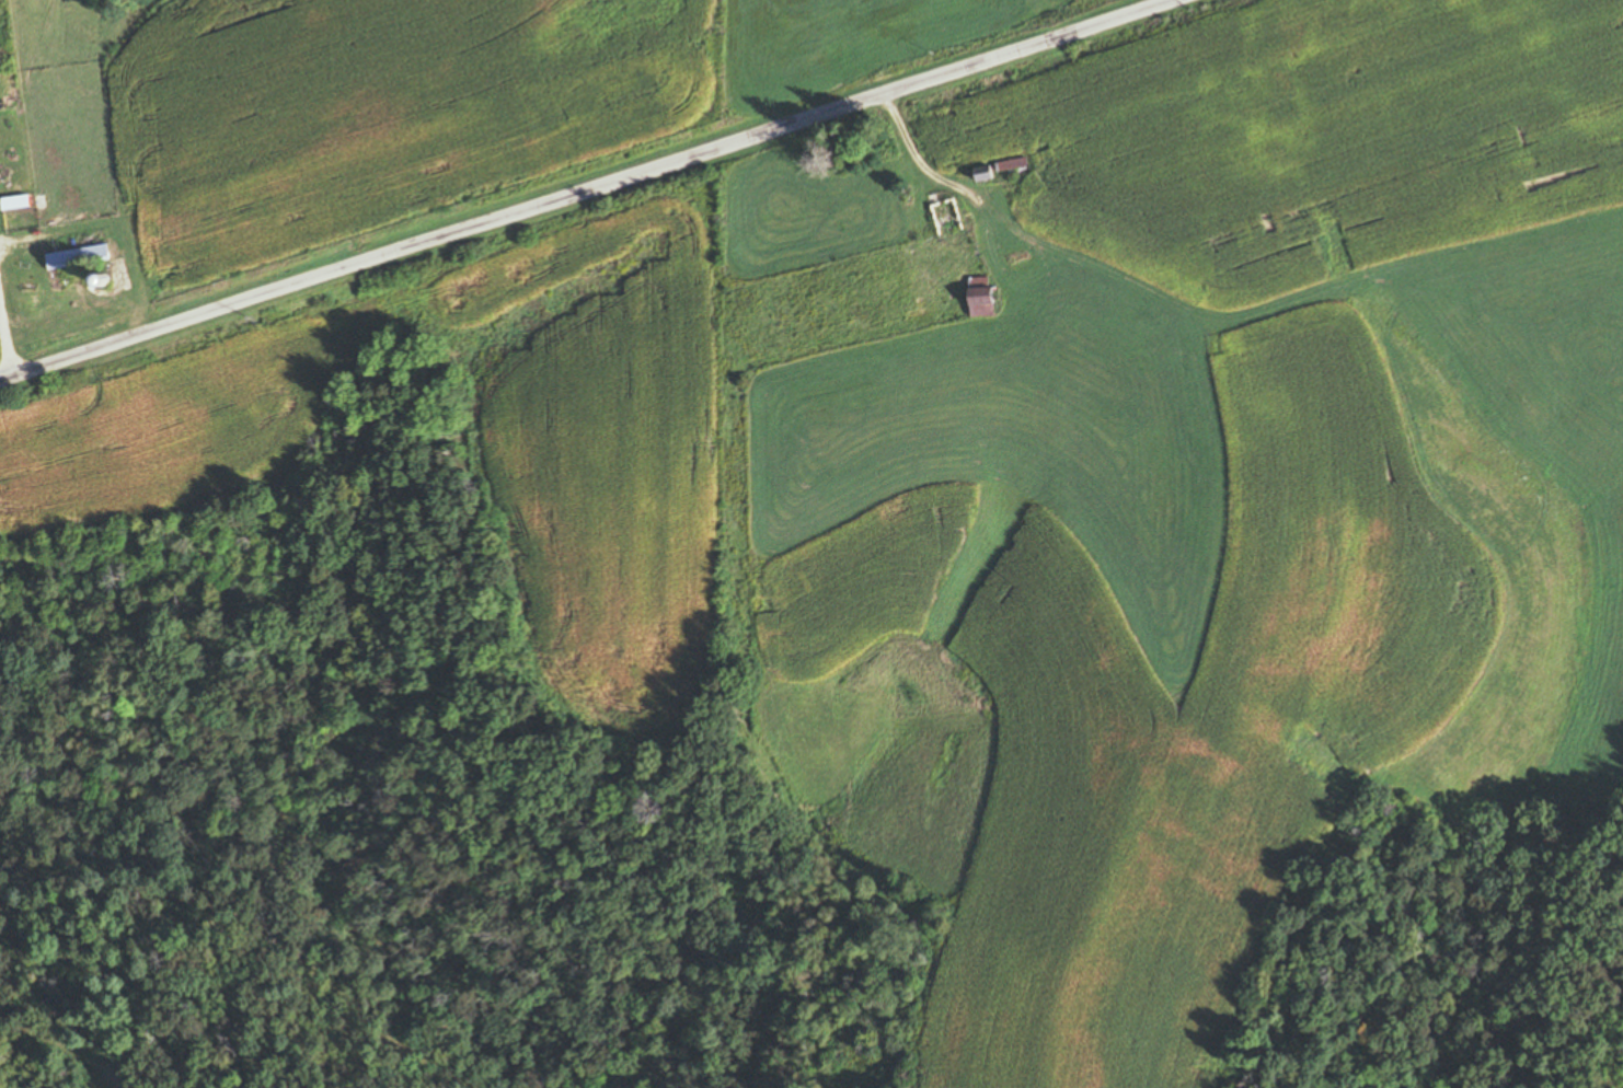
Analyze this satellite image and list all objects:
building: (1012, 166)
building: (987, 175)
road: (575, 186)
building: (19, 205)
building: (47, 285)
building: (986, 300)

